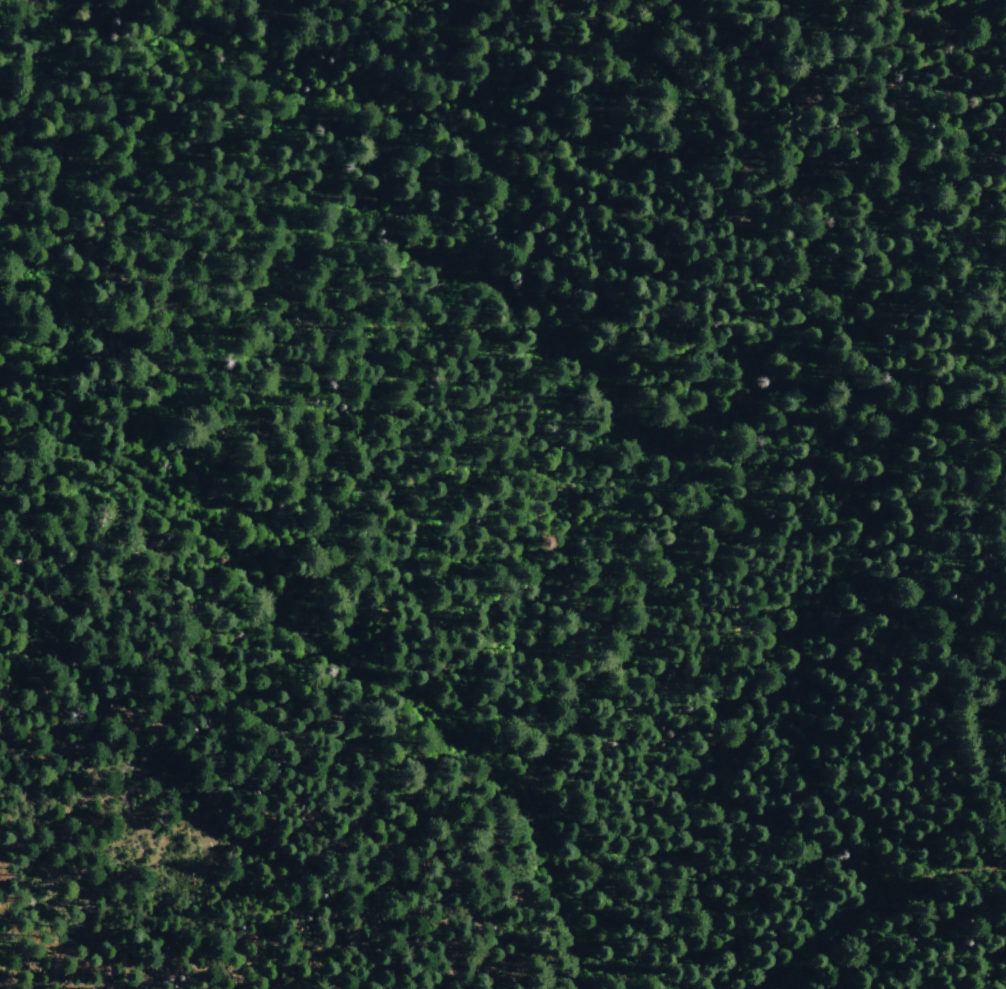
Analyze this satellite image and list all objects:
road: (939, 20)
road: (34, 439)
road: (399, 694)
road: (865, 903)

